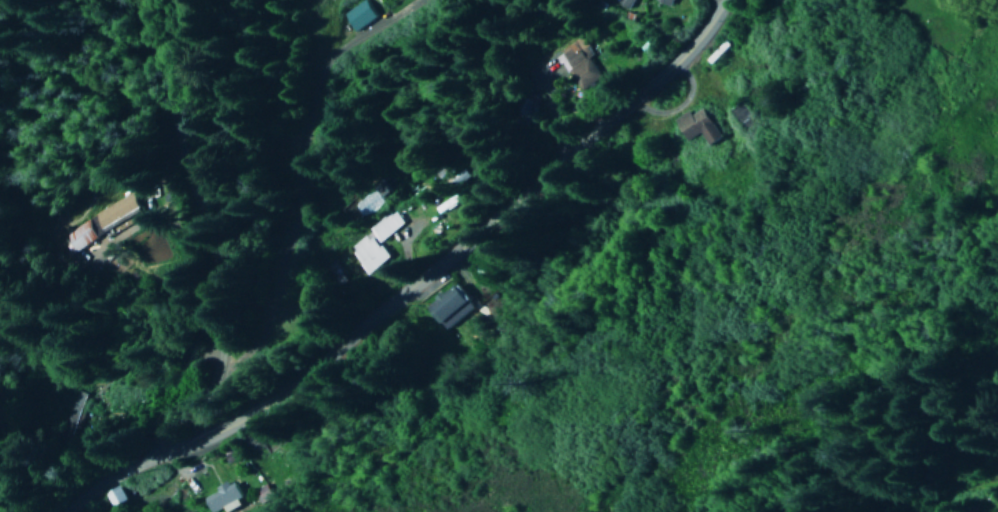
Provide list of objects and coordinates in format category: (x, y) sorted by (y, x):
building: (658, 0)
building: (671, 1)
building: (623, 3)
building: (358, 15)
building: (576, 63)
building: (519, 107)
building: (697, 126)
road: (187, 205)
road: (495, 215)
building: (93, 224)
building: (371, 243)
building: (450, 306)
building: (69, 412)
road: (161, 460)
building: (261, 495)
building: (222, 496)
building: (113, 497)

